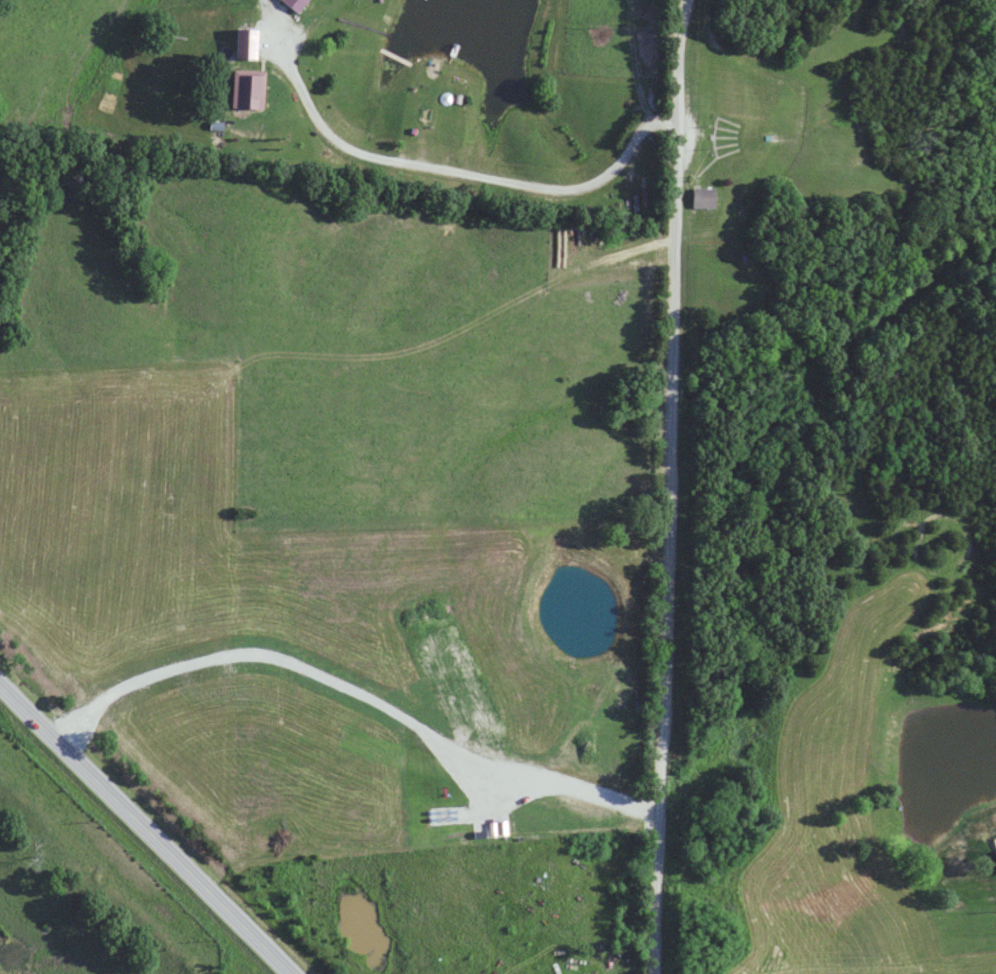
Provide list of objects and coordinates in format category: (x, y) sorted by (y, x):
building: (294, 4)
building: (246, 89)
building: (704, 198)
road: (671, 486)
road: (149, 827)

